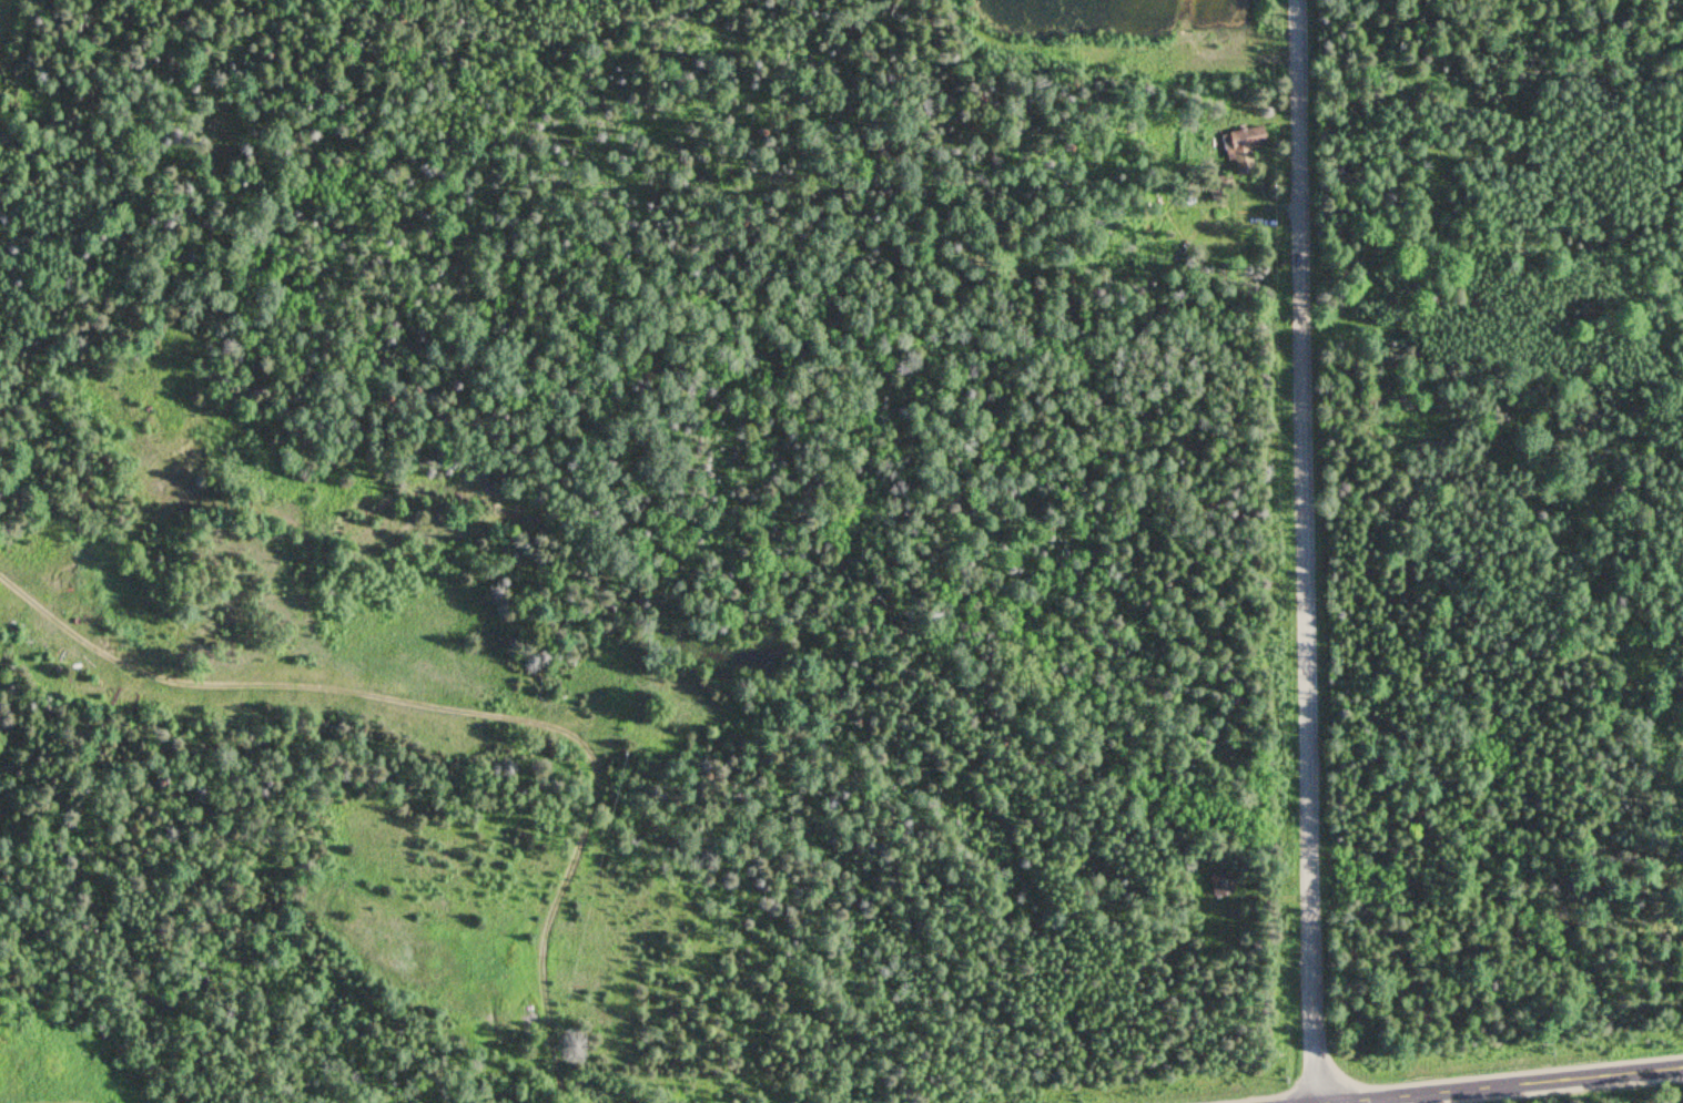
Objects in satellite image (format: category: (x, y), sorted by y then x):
building: (1240, 149)
road: (1307, 551)
building: (1218, 884)
road: (1515, 1085)

